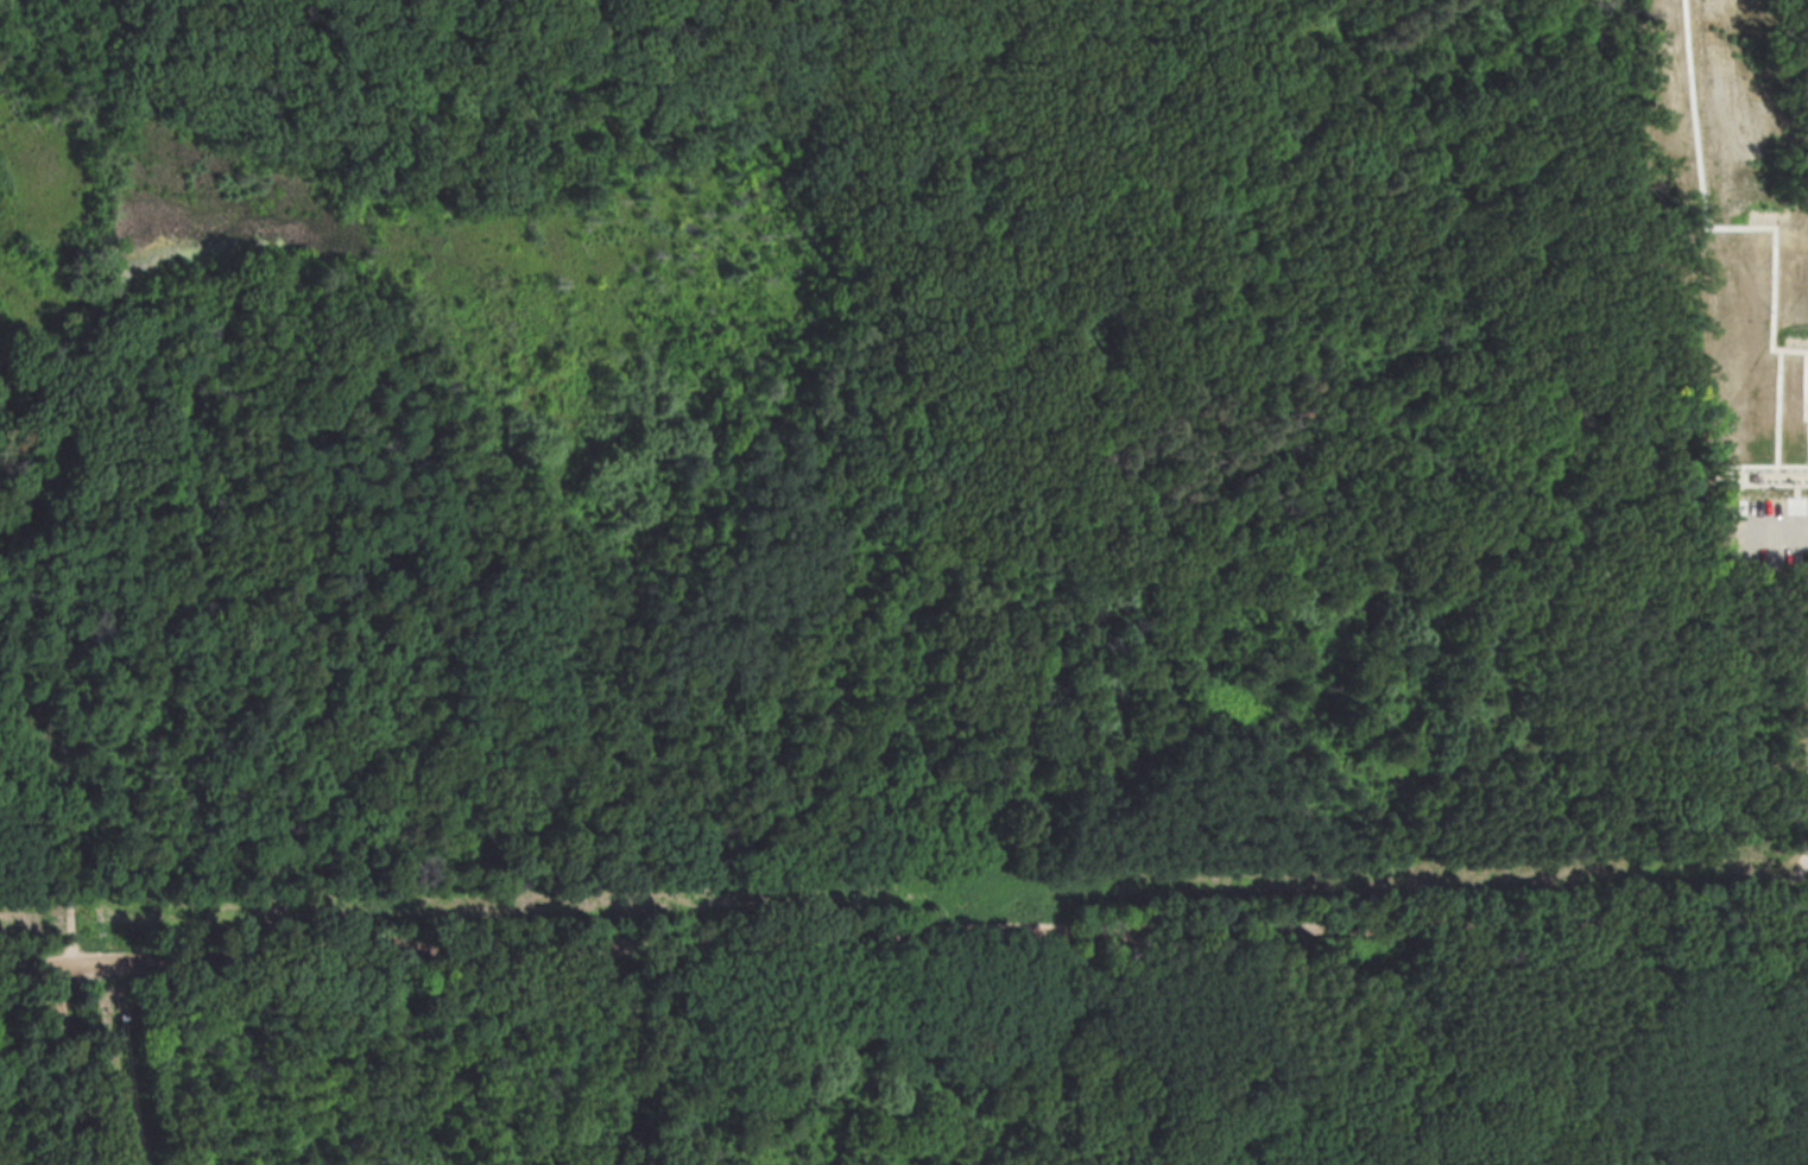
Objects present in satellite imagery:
quarry: (59, 33)
road: (49, 50)
road: (531, 52)
park: (1736, 385)
road: (1750, 483)
road: (1775, 523)
parking lot: (1770, 527)
building: (1717, 538)
park: (904, 582)
parking lot: (74, 752)
road: (74, 855)
road: (1796, 881)
road: (903, 937)
road: (74, 1062)

